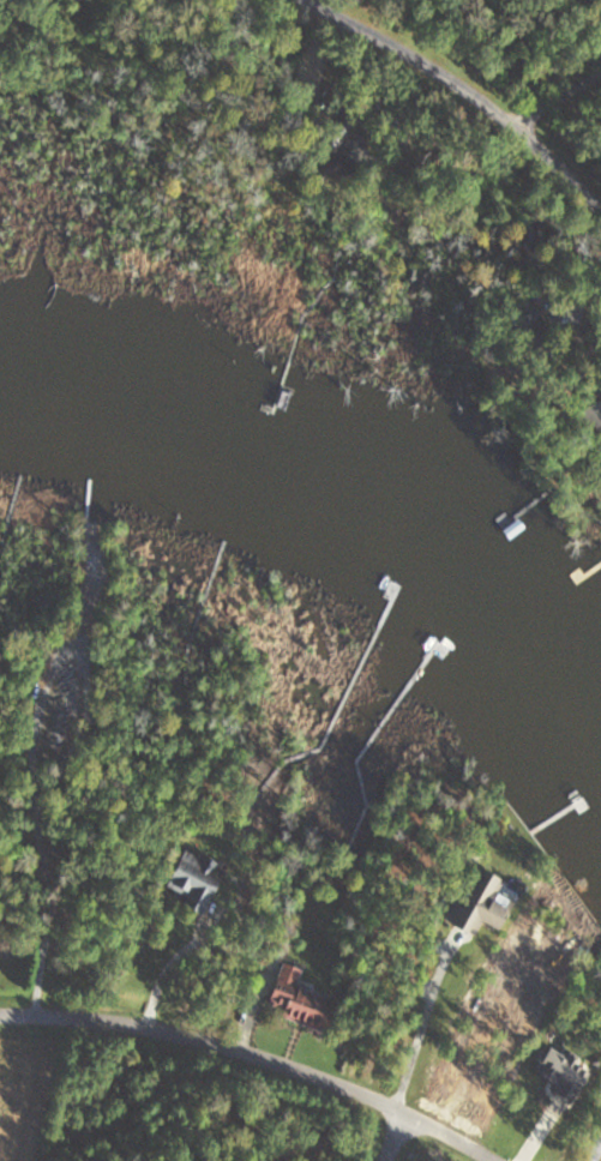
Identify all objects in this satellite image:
road: (485, 89)
road: (558, 92)
building: (591, 417)
building: (190, 879)
building: (481, 906)
building: (289, 998)
road: (417, 1024)
road: (257, 1057)
building: (557, 1071)
road: (395, 1136)

